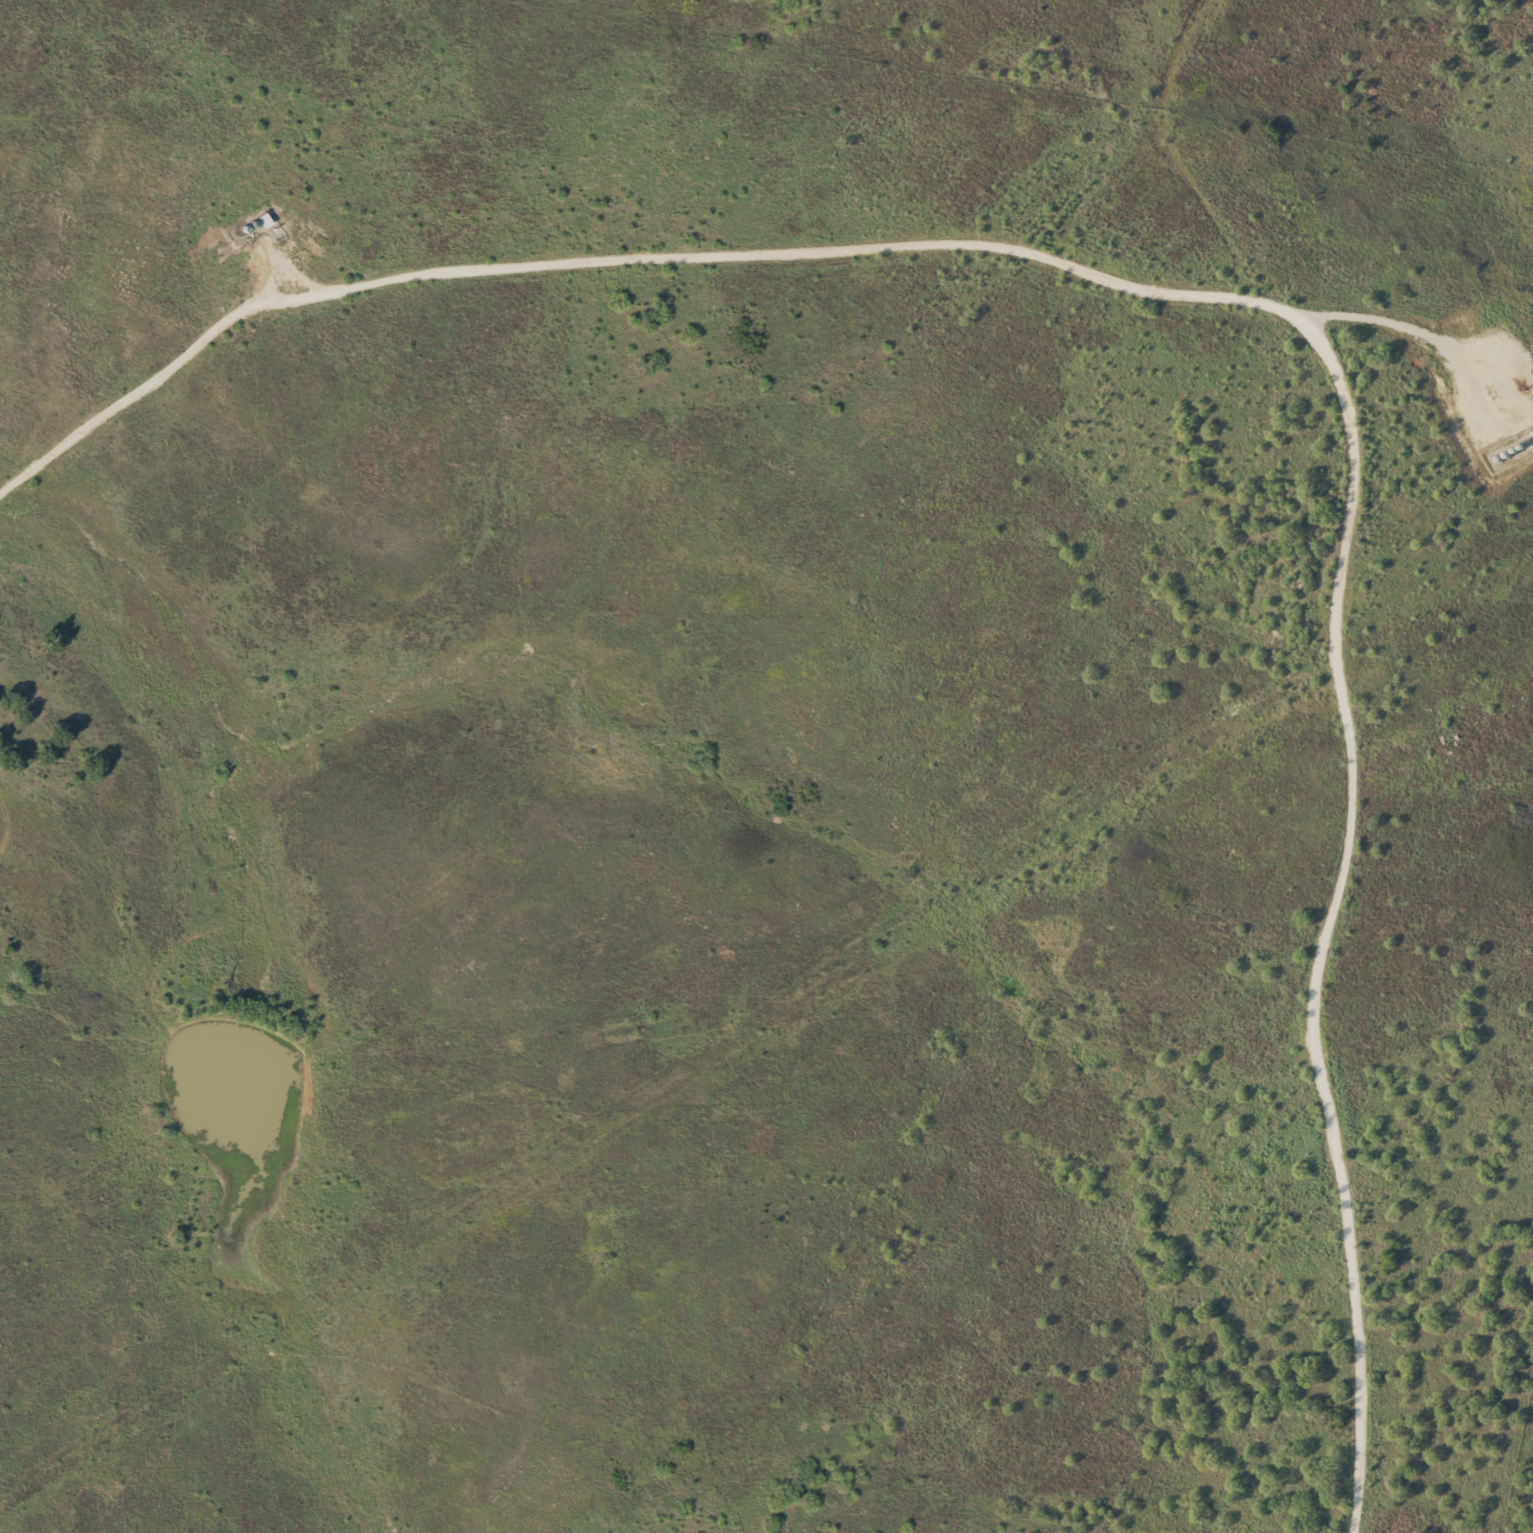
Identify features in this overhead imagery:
road: (633, 253)
road: (1357, 816)

